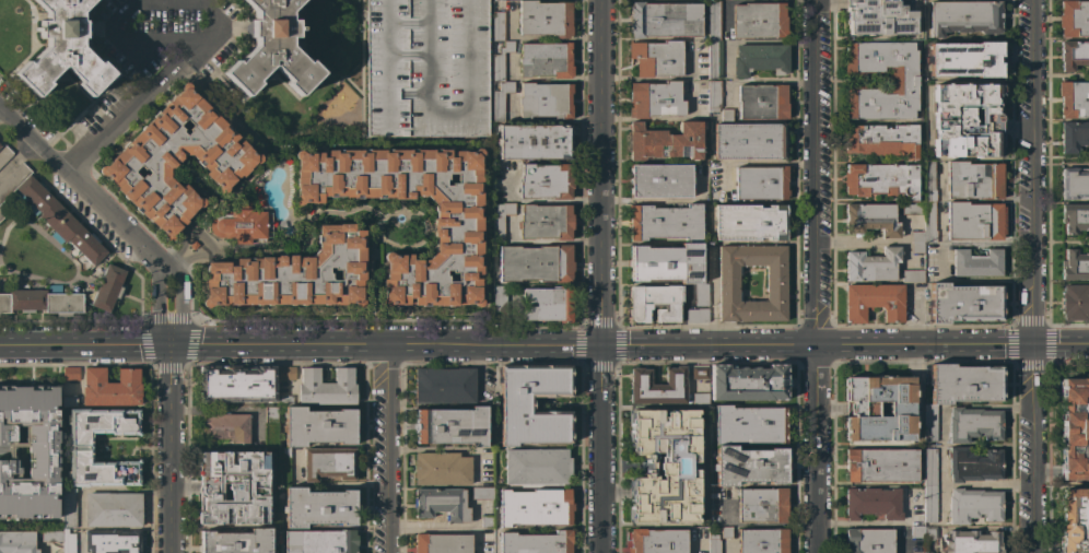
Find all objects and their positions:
building: (880, 16)
building: (965, 16)
building: (1074, 17)
building: (544, 19)
building: (665, 20)
building: (714, 20)
building: (759, 20)
building: (499, 25)
road: (131, 44)
building: (62, 48)
building: (271, 48)
building: (1074, 54)
building: (657, 58)
building: (714, 59)
building: (760, 59)
building: (964, 59)
building: (501, 60)
building: (546, 60)
building: (426, 68)
parking lot: (426, 68)
building: (902, 81)
road: (150, 90)
building: (713, 95)
building: (501, 99)
building: (655, 99)
building: (1074, 99)
building: (544, 101)
building: (762, 102)
road: (218, 104)
building: (726, 115)
building: (967, 120)
building: (1074, 136)
building: (881, 140)
building: (534, 141)
building: (749, 141)
building: (664, 142)
building: (4, 154)
building: (177, 160)
road: (766, 164)
road: (1032, 170)
road: (599, 173)
road: (808, 173)
building: (881, 179)
building: (544, 180)
building: (660, 180)
building: (973, 180)
building: (761, 183)
building: (929, 183)
building: (1075, 184)
road: (81, 189)
road: (550, 200)
building: (913, 208)
building: (50, 213)
building: (1075, 217)
building: (871, 219)
building: (501, 220)
building: (974, 221)
building: (544, 222)
building: (665, 222)
building: (749, 222)
building: (929, 222)
building: (238, 224)
building: (457, 224)
building: (917, 236)
road: (200, 238)
building: (194, 245)
building: (916, 247)
building: (666, 262)
building: (977, 262)
building: (535, 263)
building: (873, 264)
building: (1075, 266)
building: (294, 274)
building: (912, 276)
road: (974, 278)
building: (775, 283)
building: (107, 289)
building: (701, 295)
building: (42, 301)
building: (874, 302)
building: (1075, 302)
building: (655, 303)
building: (963, 303)
building: (499, 304)
building: (548, 304)
road: (177, 305)
road: (156, 306)
building: (696, 315)
road: (951, 343)
traffic signals: (1033, 343)
road: (706, 345)
road: (548, 346)
traffic signals: (600, 346)
road: (84, 348)
traffic signals: (168, 348)
road: (278, 348)
road: (442, 348)
building: (285, 372)
building: (699, 373)
building: (70, 374)
building: (748, 383)
building: (236, 384)
building: (964, 384)
building: (444, 386)
building: (110, 387)
building: (327, 387)
building: (657, 387)
building: (700, 399)
building: (284, 400)
building: (70, 401)
building: (516, 404)
building: (863, 409)
building: (929, 422)
building: (973, 424)
building: (749, 425)
building: (270, 426)
building: (318, 426)
building: (450, 426)
building: (224, 427)
building: (1075, 428)
building: (80, 442)
road: (941, 444)
road: (1033, 448)
road: (168, 449)
road: (600, 449)
road: (813, 449)
road: (387, 450)
building: (30, 452)
building: (328, 463)
building: (881, 464)
building: (973, 464)
building: (536, 466)
building: (665, 466)
building: (749, 466)
building: (284, 467)
building: (930, 467)
building: (441, 468)
road: (327, 484)
building: (233, 486)
road: (118, 491)
building: (482, 493)
building: (714, 495)
building: (873, 503)
building: (930, 503)
building: (442, 504)
building: (762, 505)
building: (973, 505)
building: (535, 506)
building: (69, 507)
building: (318, 507)
building: (113, 509)
building: (1074, 520)
building: (487, 521)
road: (753, 523)
road: (855, 523)
road: (80, 528)
road: (442, 530)
building: (726, 531)
building: (916, 532)
building: (929, 533)
building: (58, 538)
building: (657, 540)
building: (762, 540)
building: (868, 540)
building: (112, 541)
building: (235, 541)
building: (319, 541)
building: (16, 542)
building: (536, 542)
building: (971, 542)
building: (442, 543)
building: (714, 543)
building: (927, 552)

